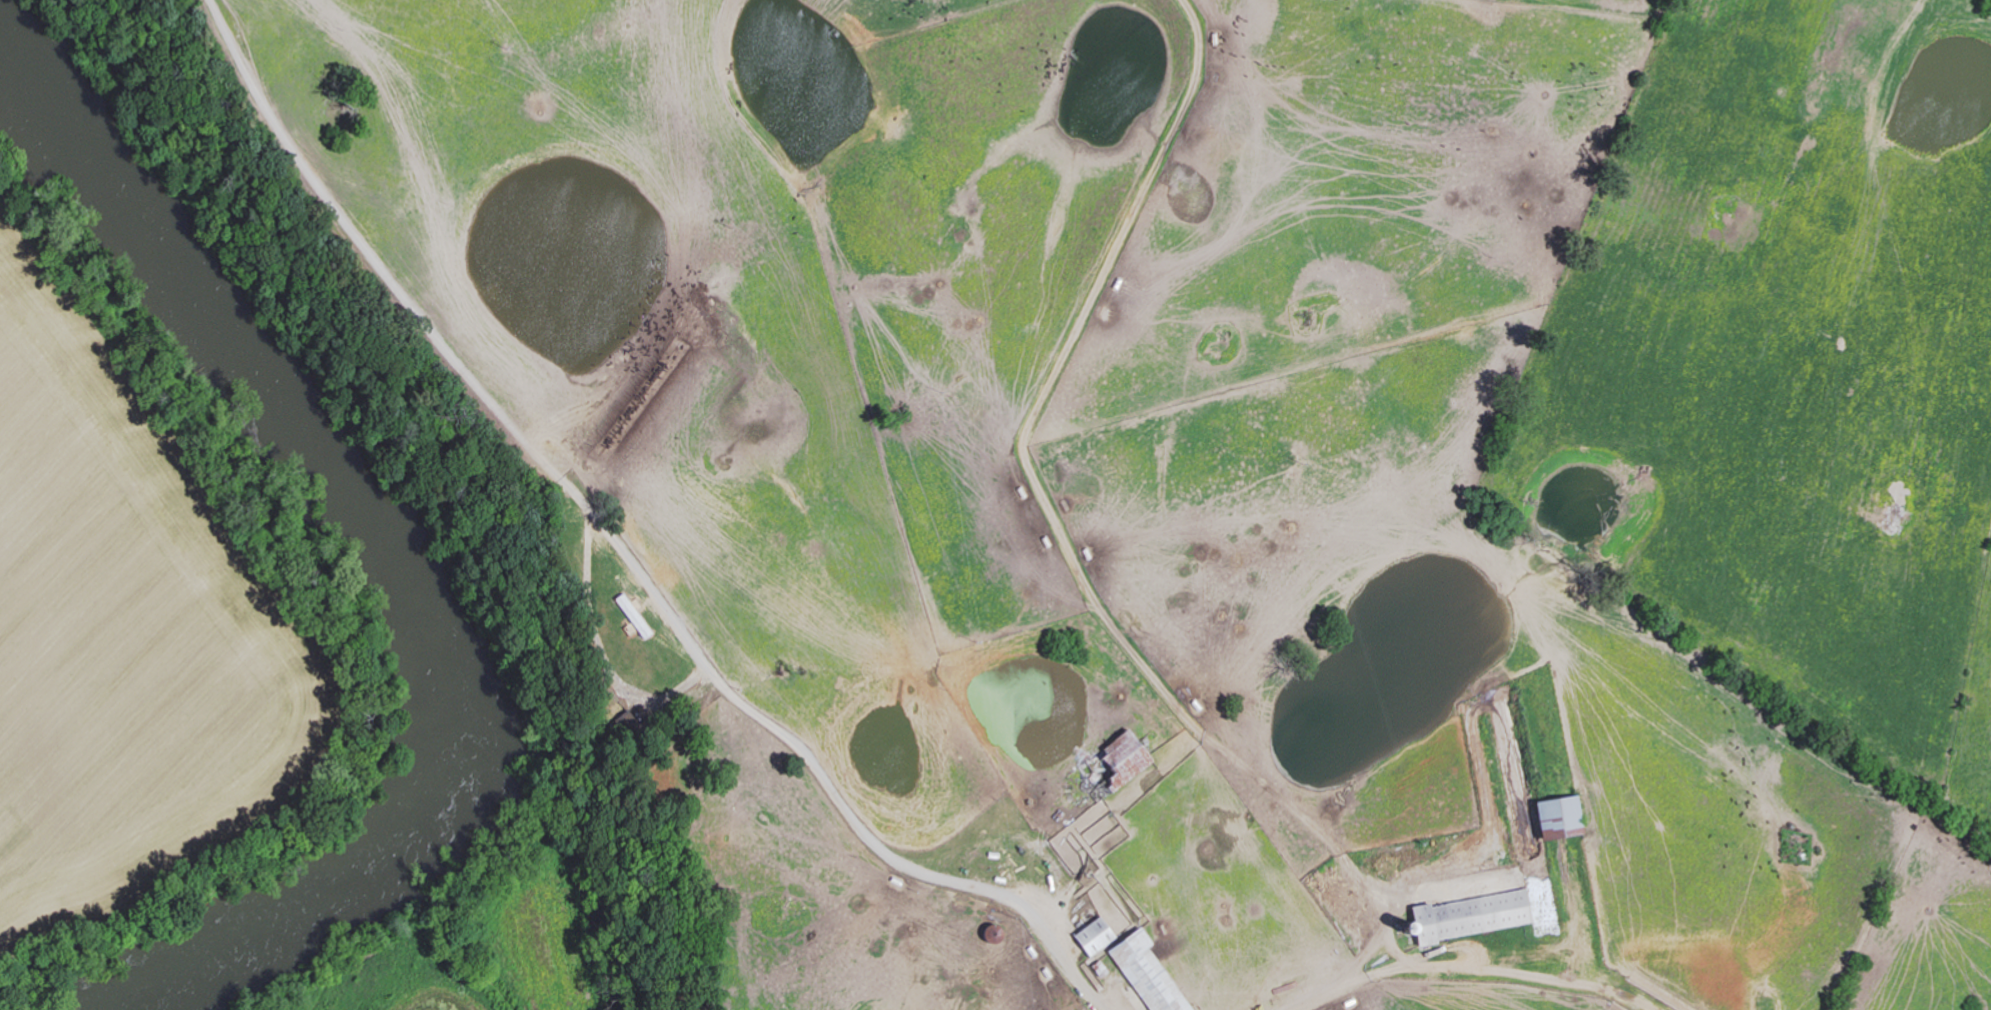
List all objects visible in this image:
road: (619, 551)
river: (351, 568)
building: (1117, 759)
building: (1557, 816)
building: (1470, 914)
building: (1092, 935)
building: (1145, 972)
road: (1340, 978)

